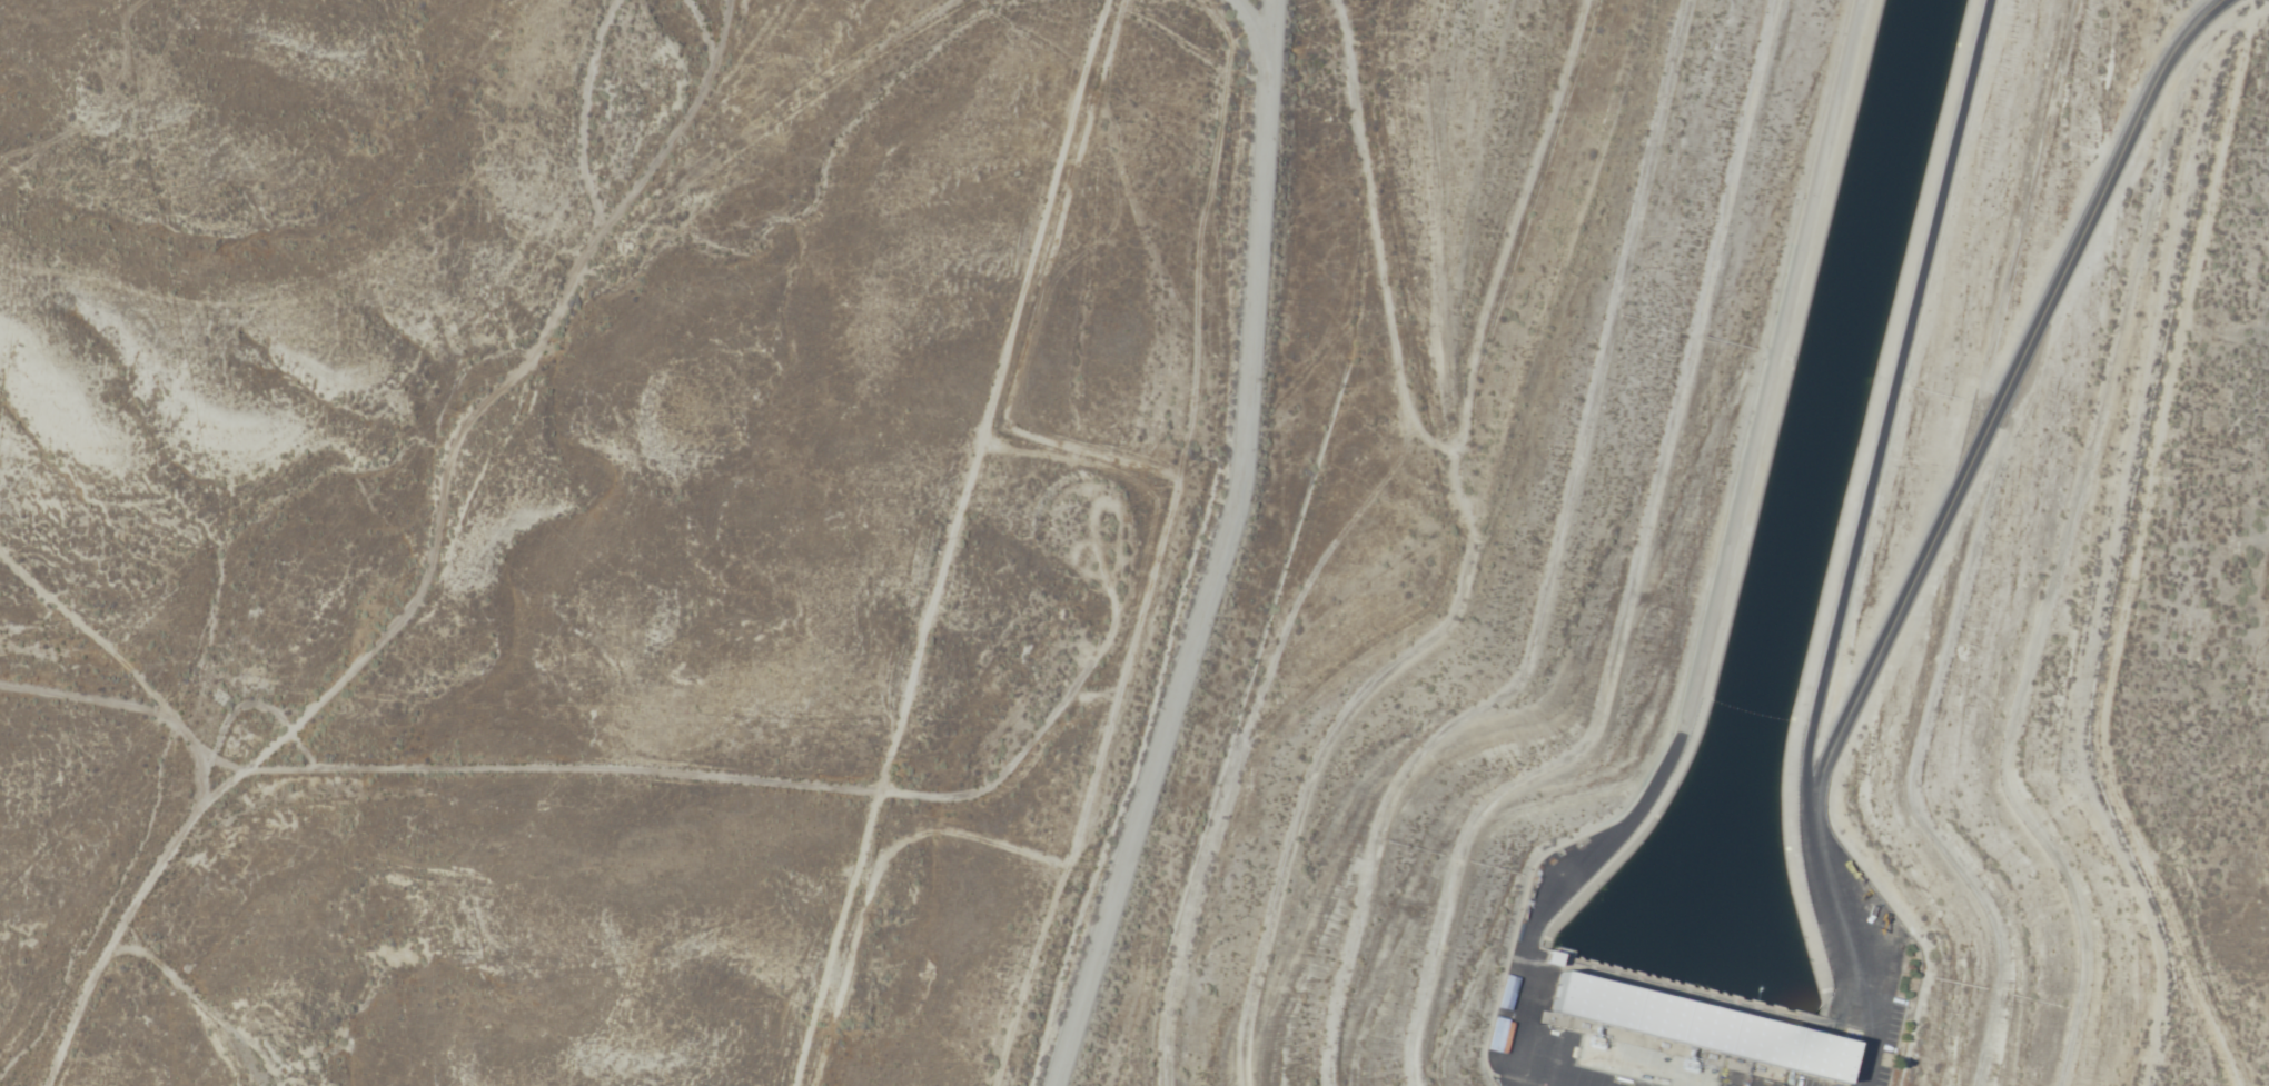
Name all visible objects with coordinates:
road: (1242, 33)
road: (1266, 33)
road: (684, 133)
road: (1771, 367)
road: (2004, 390)
road: (1891, 397)
road: (497, 488)
road: (950, 542)
road: (1200, 585)
road: (538, 777)
road: (1544, 903)
road: (1851, 939)
road: (230, 1020)
building: (1695, 1027)
power tower: (1588, 1042)
power tower: (1684, 1065)

